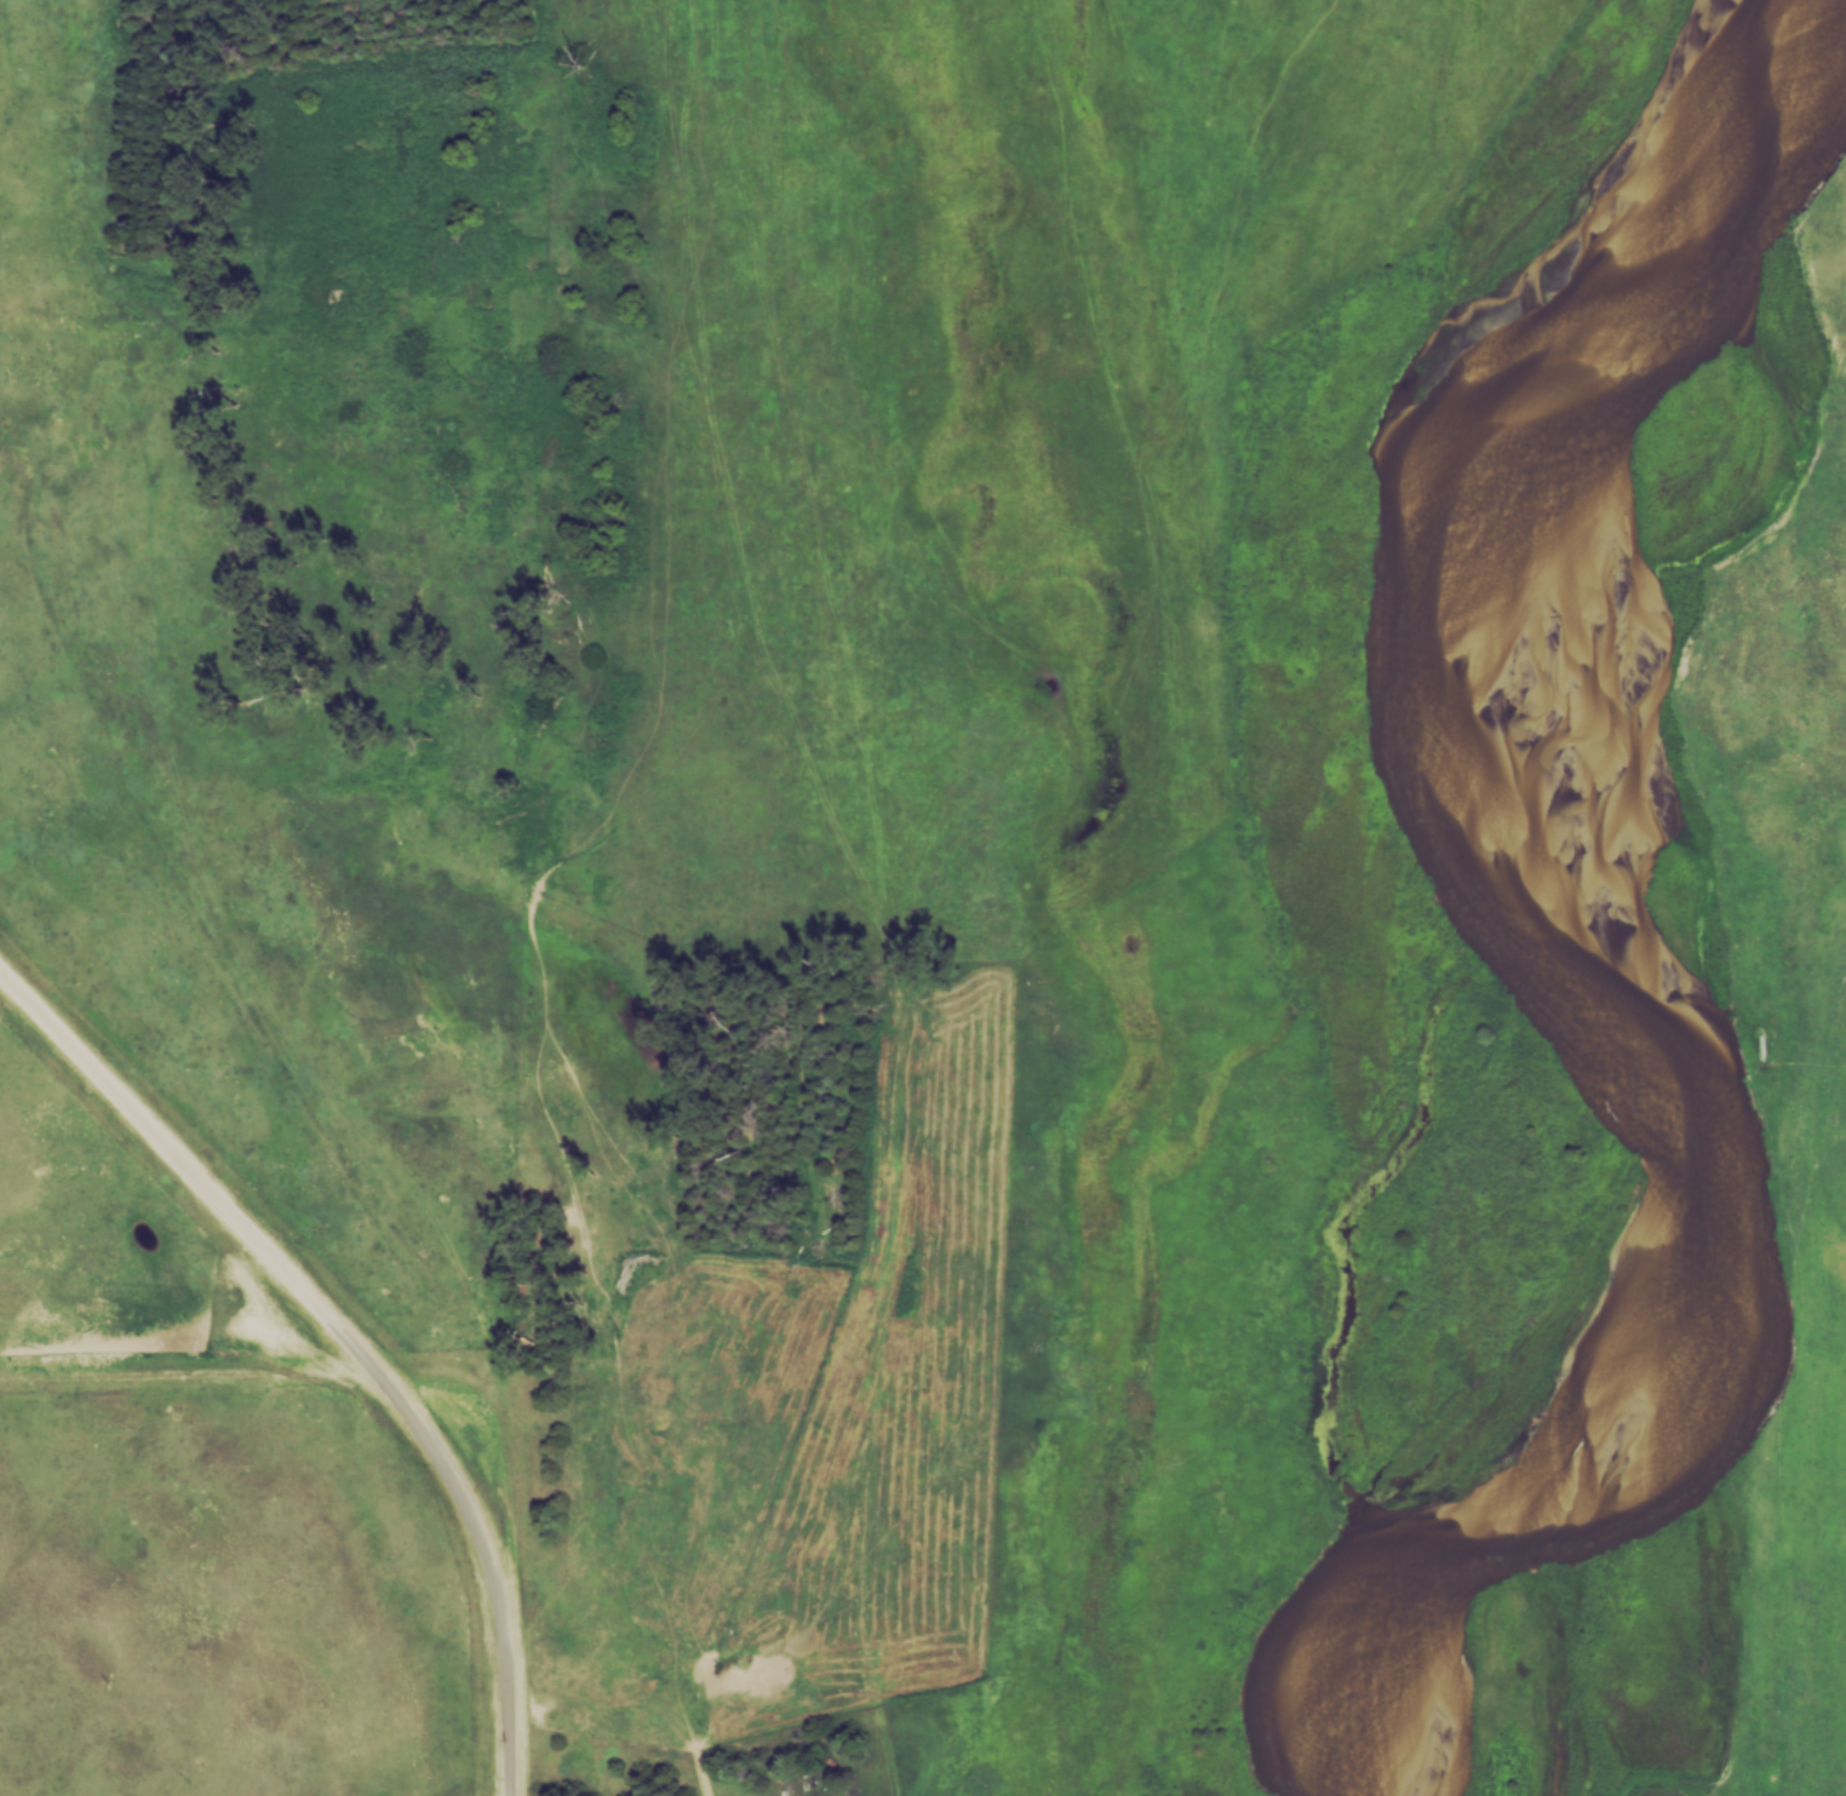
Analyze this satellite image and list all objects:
river: (1617, 923)
road: (339, 1349)

